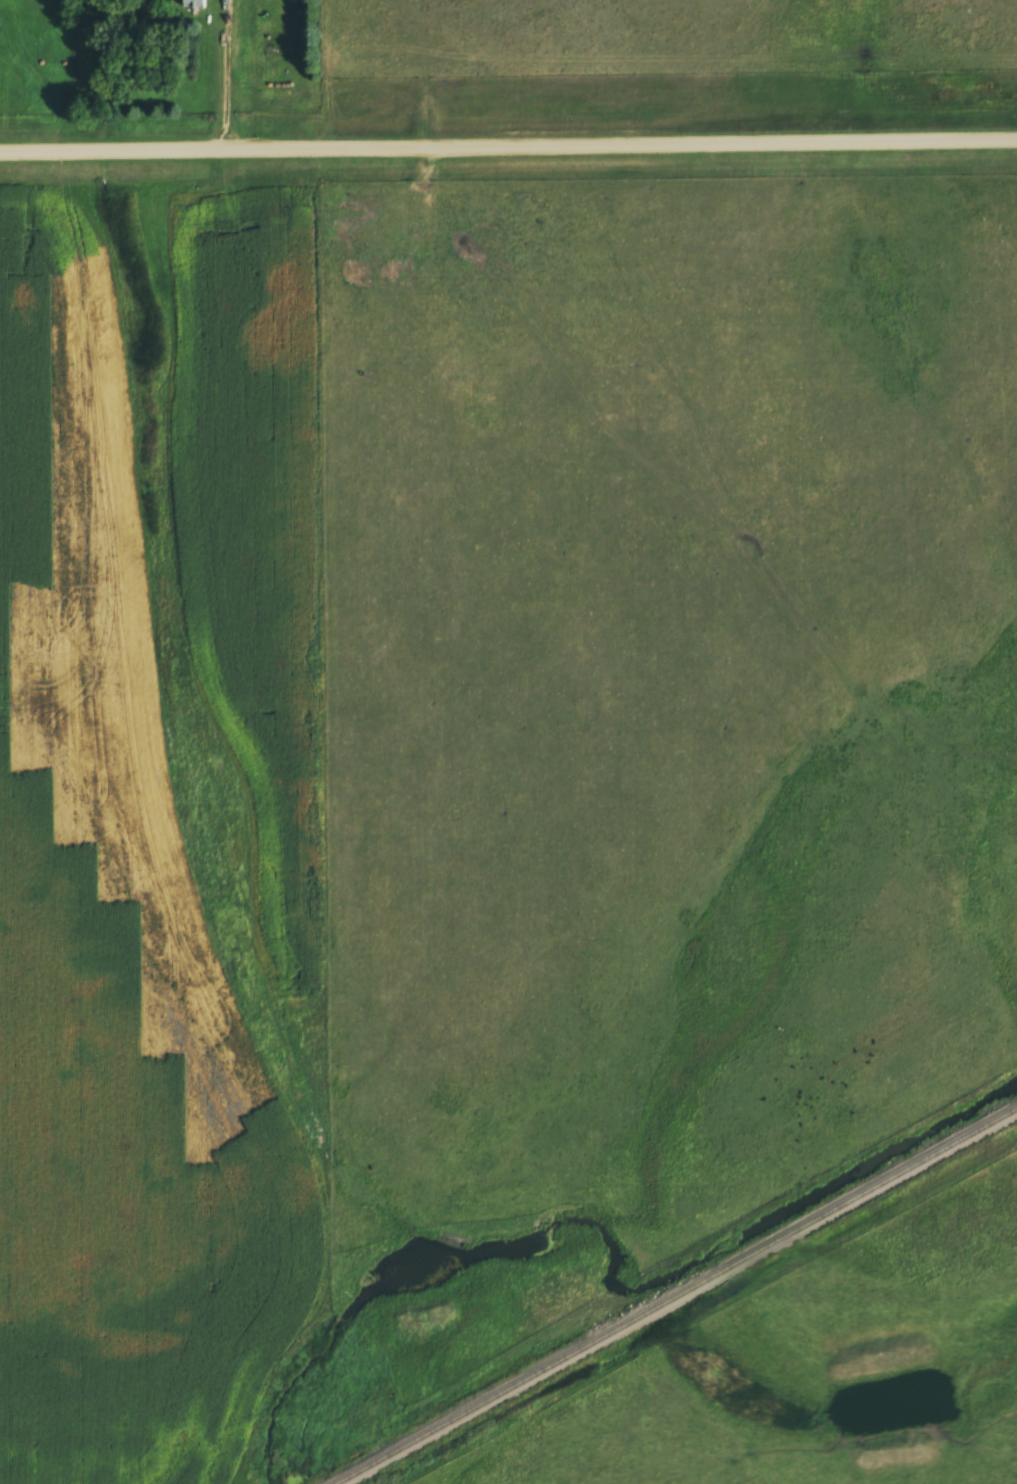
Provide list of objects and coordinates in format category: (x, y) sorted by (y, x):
building: (192, 0)
road: (508, 146)
railway: (678, 1298)

